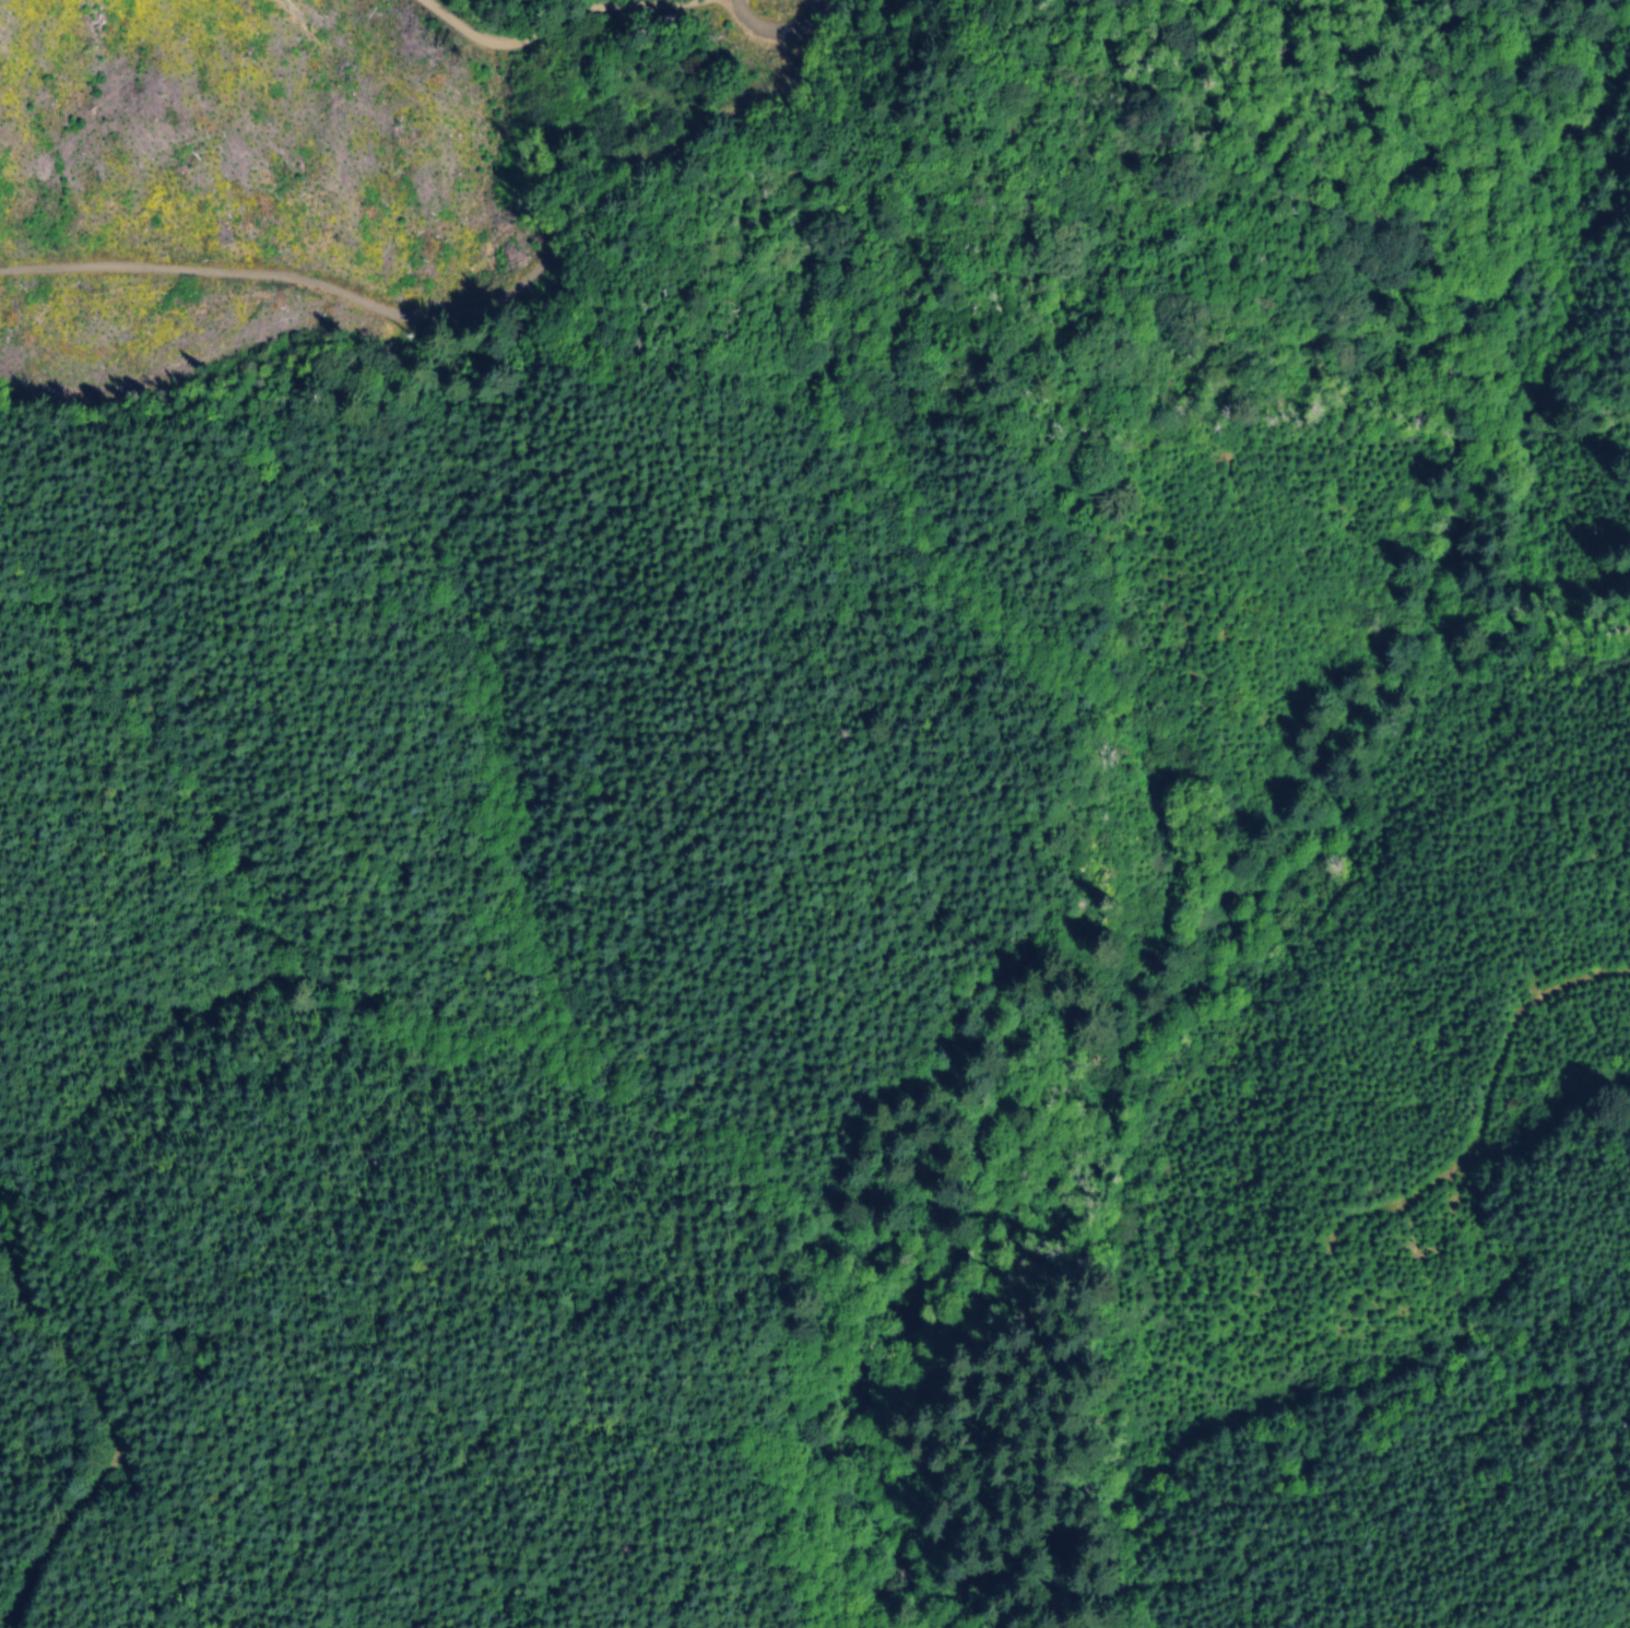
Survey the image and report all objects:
road: (507, 2)
road: (428, 212)

